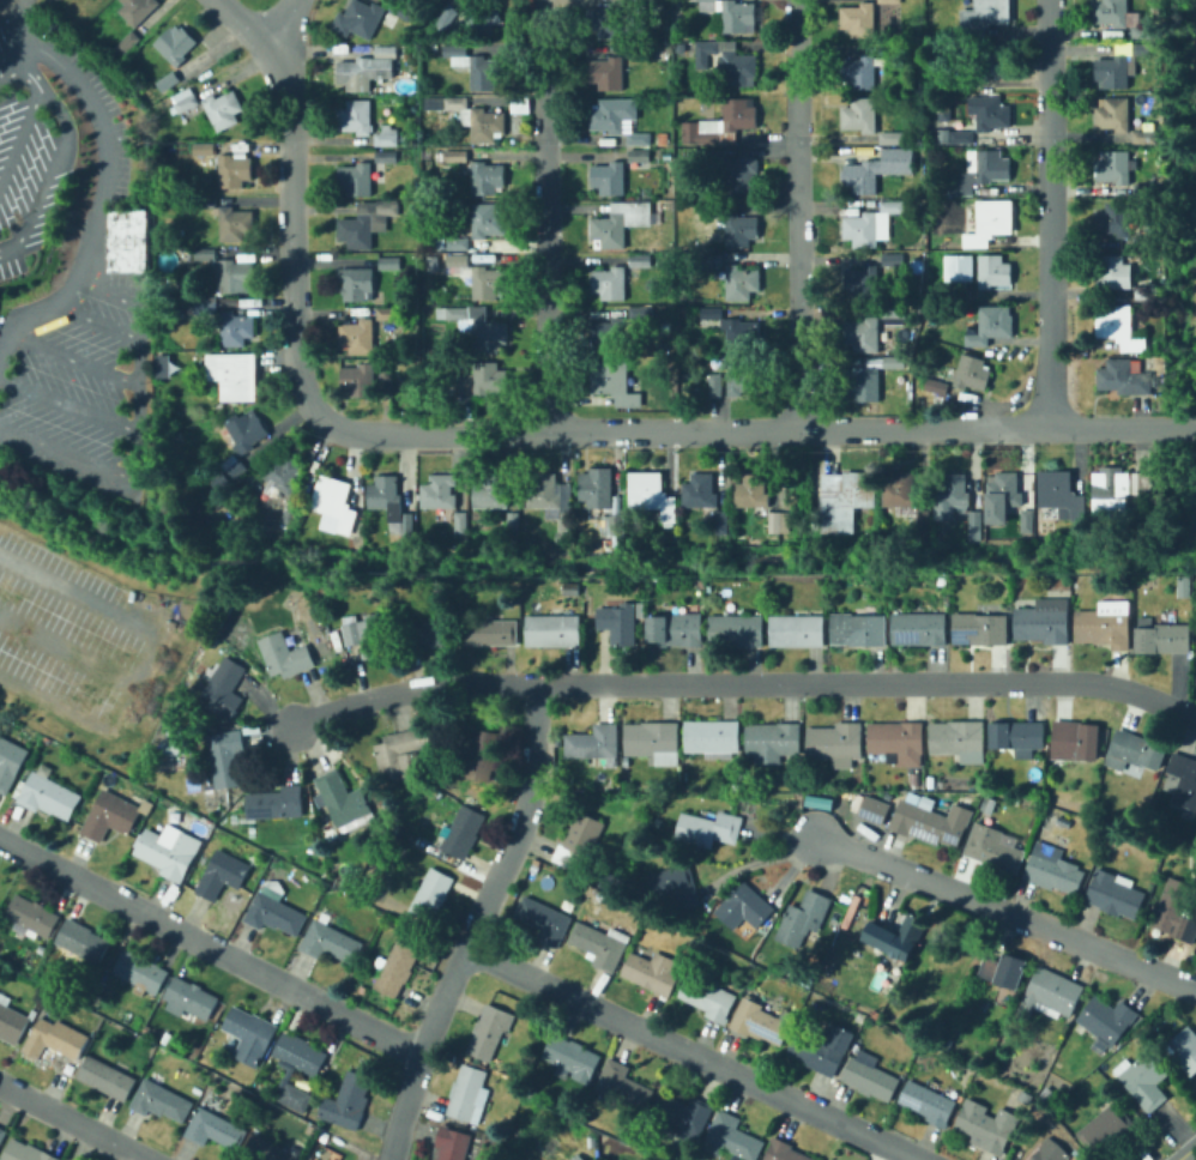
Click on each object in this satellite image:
building: (635, 1)
building: (889, 1)
park: (2, 7)
building: (137, 10)
road: (19, 12)
building: (405, 12)
building: (1111, 12)
building: (733, 13)
building: (984, 17)
building: (483, 18)
building: (358, 19)
building: (859, 19)
road: (278, 20)
building: (445, 20)
road: (240, 22)
building: (606, 22)
building: (425, 25)
building: (1144, 32)
building: (215, 35)
building: (659, 40)
building: (206, 41)
building: (128, 42)
road: (7, 44)
building: (175, 44)
building: (890, 49)
building: (638, 50)
building: (386, 52)
building: (1146, 52)
road: (28, 54)
building: (199, 60)
building: (991, 61)
building: (729, 62)
building: (479, 66)
building: (364, 72)
building: (606, 72)
building: (860, 72)
building: (1113, 72)
building: (168, 80)
building: (959, 80)
building: (144, 87)
building: (186, 103)
building: (517, 105)
road: (55, 107)
building: (223, 109)
building: (1113, 114)
building: (860, 115)
building: (355, 116)
building: (475, 117)
building: (979, 119)
building: (617, 120)
building: (723, 125)
road: (20, 131)
building: (386, 135)
building: (1144, 137)
building: (892, 138)
building: (1119, 138)
road: (105, 139)
building: (203, 149)
building: (455, 155)
building: (639, 155)
building: (386, 157)
building: (1112, 167)
building: (234, 170)
building: (878, 170)
building: (980, 170)
building: (739, 176)
building: (487, 177)
building: (609, 177)
building: (356, 180)
building: (1144, 188)
road: (38, 189)
building: (1130, 192)
building: (204, 203)
building: (892, 206)
building: (709, 207)
road: (1046, 213)
road: (543, 215)
road: (797, 215)
building: (1116, 219)
building: (623, 222)
building: (367, 223)
building: (987, 223)
building: (235, 224)
building: (476, 229)
building: (865, 229)
building: (741, 230)
building: (670, 234)
building: (128, 240)
building: (1147, 242)
road: (8, 248)
building: (615, 259)
building: (711, 259)
building: (898, 259)
building: (640, 260)
building: (389, 265)
building: (959, 267)
building: (226, 271)
building: (993, 271)
building: (1116, 271)
building: (479, 277)
building: (358, 282)
building: (862, 282)
building: (610, 283)
building: (741, 283)
road: (104, 292)
building: (201, 304)
road: (46, 312)
building: (388, 313)
building: (893, 314)
road: (99, 321)
building: (991, 325)
building: (1119, 325)
building: (236, 328)
building: (617, 330)
building: (736, 330)
building: (493, 334)
building: (863, 334)
building: (357, 337)
road: (5, 349)
road: (75, 361)
building: (894, 362)
building: (159, 364)
building: (972, 373)
building: (234, 374)
building: (743, 377)
building: (1123, 377)
building: (482, 379)
building: (358, 380)
building: (386, 380)
building: (614, 381)
building: (863, 383)
building: (715, 385)
building: (936, 385)
road: (140, 389)
road: (71, 406)
road: (562, 430)
building: (243, 433)
road: (68, 454)
building: (234, 467)
building: (284, 472)
building: (219, 483)
building: (597, 487)
building: (753, 490)
building: (440, 491)
building: (490, 491)
building: (543, 491)
building: (700, 491)
building: (651, 494)
building: (1061, 494)
building: (1122, 496)
building: (846, 499)
building: (958, 499)
building: (1007, 501)
building: (907, 502)
building: (334, 503)
building: (391, 503)
building: (290, 513)
building: (723, 521)
building: (779, 521)
building: (513, 522)
building: (612, 525)
building: (564, 526)
building: (461, 527)
building: (358, 542)
building: (609, 542)
building: (1184, 586)
building: (570, 588)
building: (641, 609)
building: (618, 622)
building: (1044, 622)
building: (1105, 626)
building: (675, 628)
building: (979, 628)
building: (424, 629)
building: (552, 629)
building: (858, 629)
building: (919, 629)
building: (736, 630)
building: (797, 630)
building: (493, 632)
building: (364, 634)
building: (1162, 636)
road: (67, 651)
building: (285, 655)
road: (146, 658)
road: (743, 681)
building: (224, 689)
building: (1017, 736)
building: (712, 737)
building: (895, 738)
building: (958, 739)
building: (653, 741)
building: (772, 741)
building: (1075, 741)
building: (593, 742)
building: (835, 743)
building: (175, 747)
building: (1134, 750)
building: (403, 754)
building: (225, 756)
building: (481, 759)
building: (10, 761)
building: (914, 778)
building: (1183, 778)
building: (931, 781)
building: (47, 796)
building: (888, 796)
building: (967, 799)
building: (344, 800)
building: (820, 802)
building: (928, 802)
building: (276, 803)
building: (989, 804)
building: (875, 809)
building: (110, 815)
building: (1061, 817)
building: (931, 821)
building: (708, 828)
building: (464, 830)
building: (580, 841)
building: (168, 850)
building: (1079, 851)
building: (993, 852)
building: (1052, 869)
building: (222, 874)
building: (610, 882)
building: (677, 887)
building: (431, 894)
building: (1115, 894)
building: (744, 907)
building: (274, 910)
building: (1174, 911)
road: (1007, 913)
building: (32, 917)
building: (802, 917)
building: (544, 920)
road: (473, 922)
building: (896, 936)
building: (83, 941)
building: (331, 942)
building: (600, 944)
road: (209, 945)
building: (397, 969)
building: (1004, 969)
building: (140, 972)
building: (652, 972)
building: (1051, 993)
building: (707, 997)
building: (189, 998)
building: (1106, 1019)
building: (11, 1021)
building: (761, 1021)
building: (489, 1031)
building: (249, 1034)
building: (55, 1039)
building: (821, 1047)
building: (1185, 1049)
road: (691, 1051)
building: (300, 1053)
building: (572, 1056)
building: (870, 1076)
building: (108, 1077)
building: (1146, 1079)
building: (623, 1083)
building: (1046, 1093)
building: (469, 1094)
building: (1022, 1094)
building: (296, 1096)
building: (161, 1100)
building: (348, 1101)
building: (928, 1102)
building: (683, 1113)
road: (74, 1122)
building: (987, 1125)
building: (215, 1129)
building: (1106, 1129)
building: (2, 1134)
building: (731, 1137)
building: (452, 1143)
building: (266, 1149)
building: (1049, 1150)
road: (1184, 1150)
building: (25, 1152)
building: (784, 1152)
building: (578, 1158)

